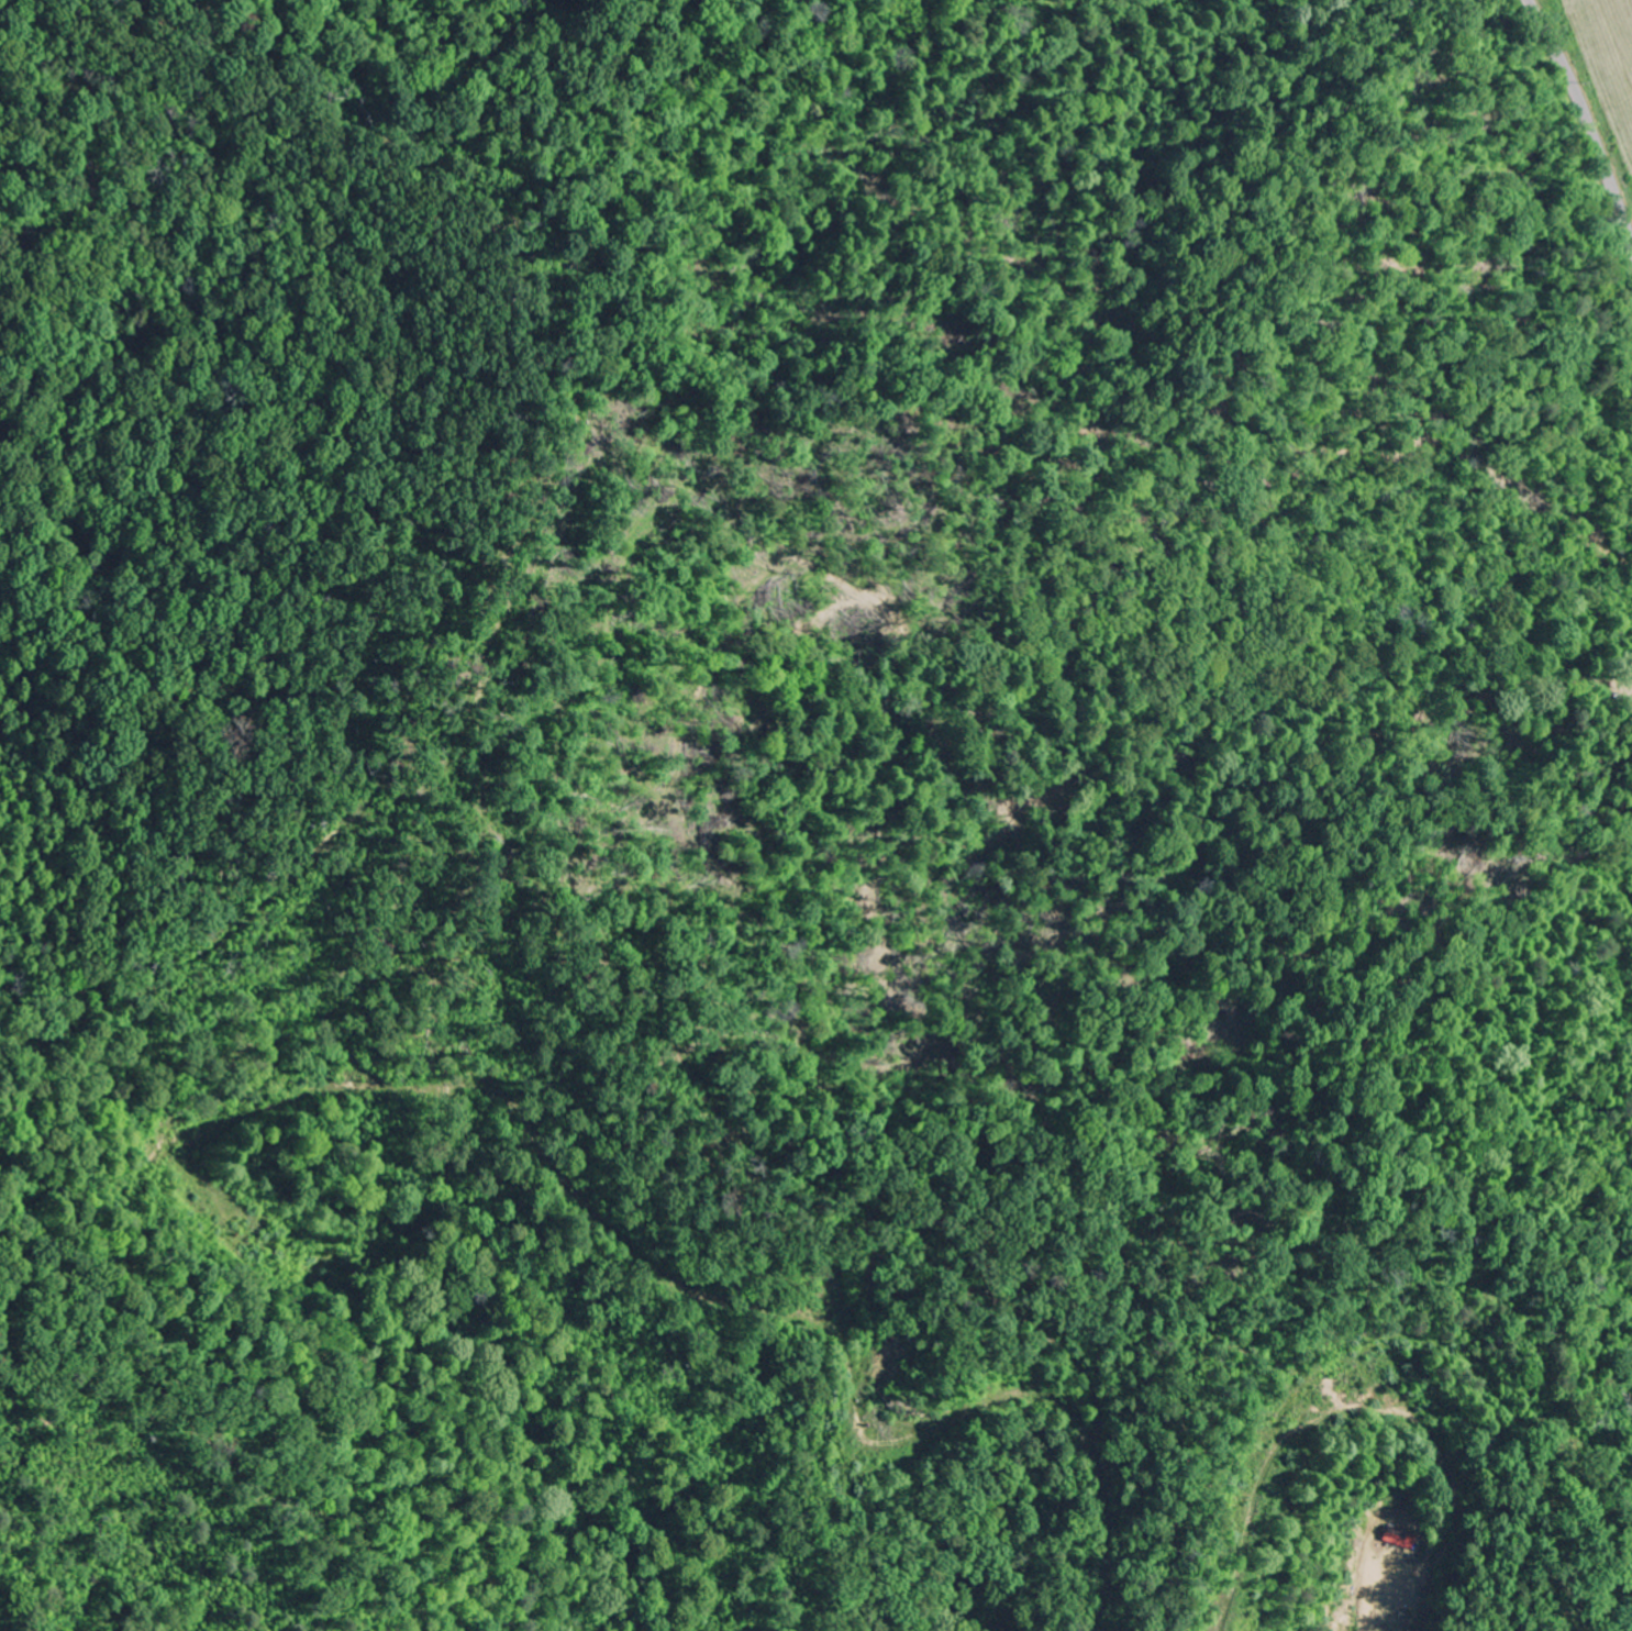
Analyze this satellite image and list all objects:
road: (1591, 99)
building: (1400, 1539)

